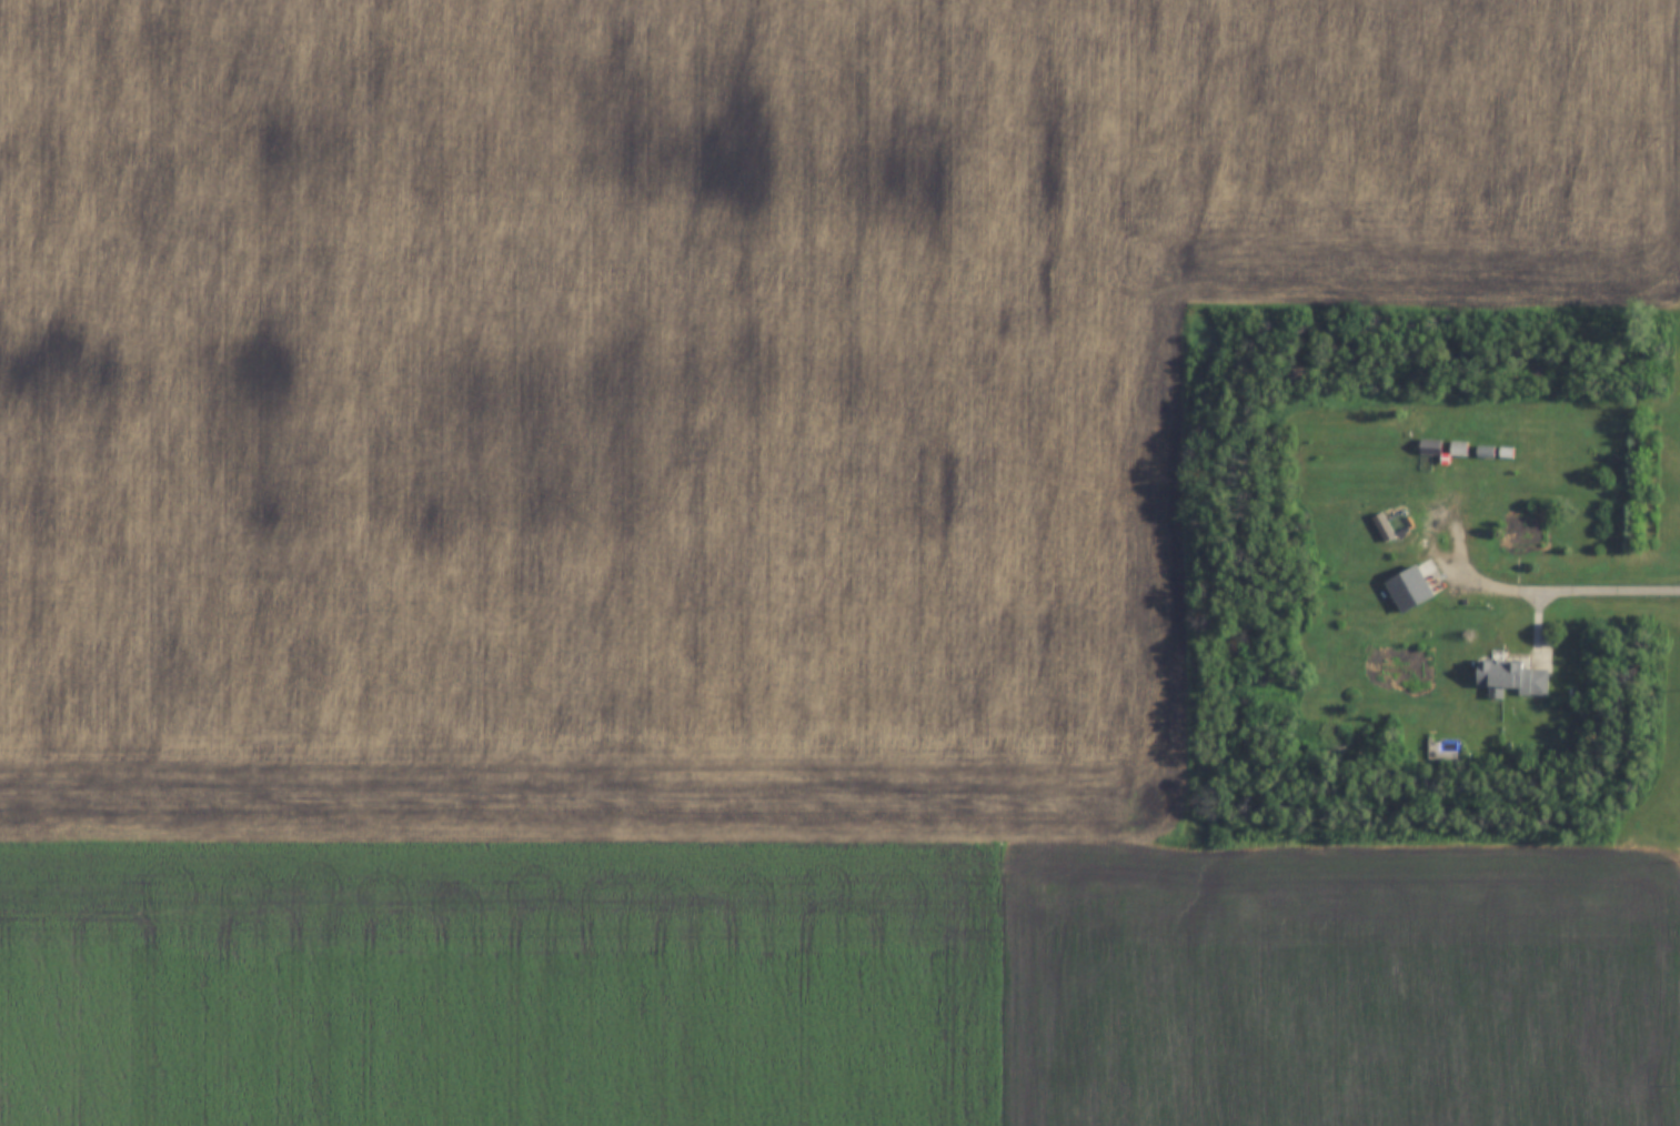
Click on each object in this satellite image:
building: (1457, 450)
building: (1430, 458)
road: (1432, 547)
building: (1410, 590)
road: (1576, 592)
building: (1513, 677)

